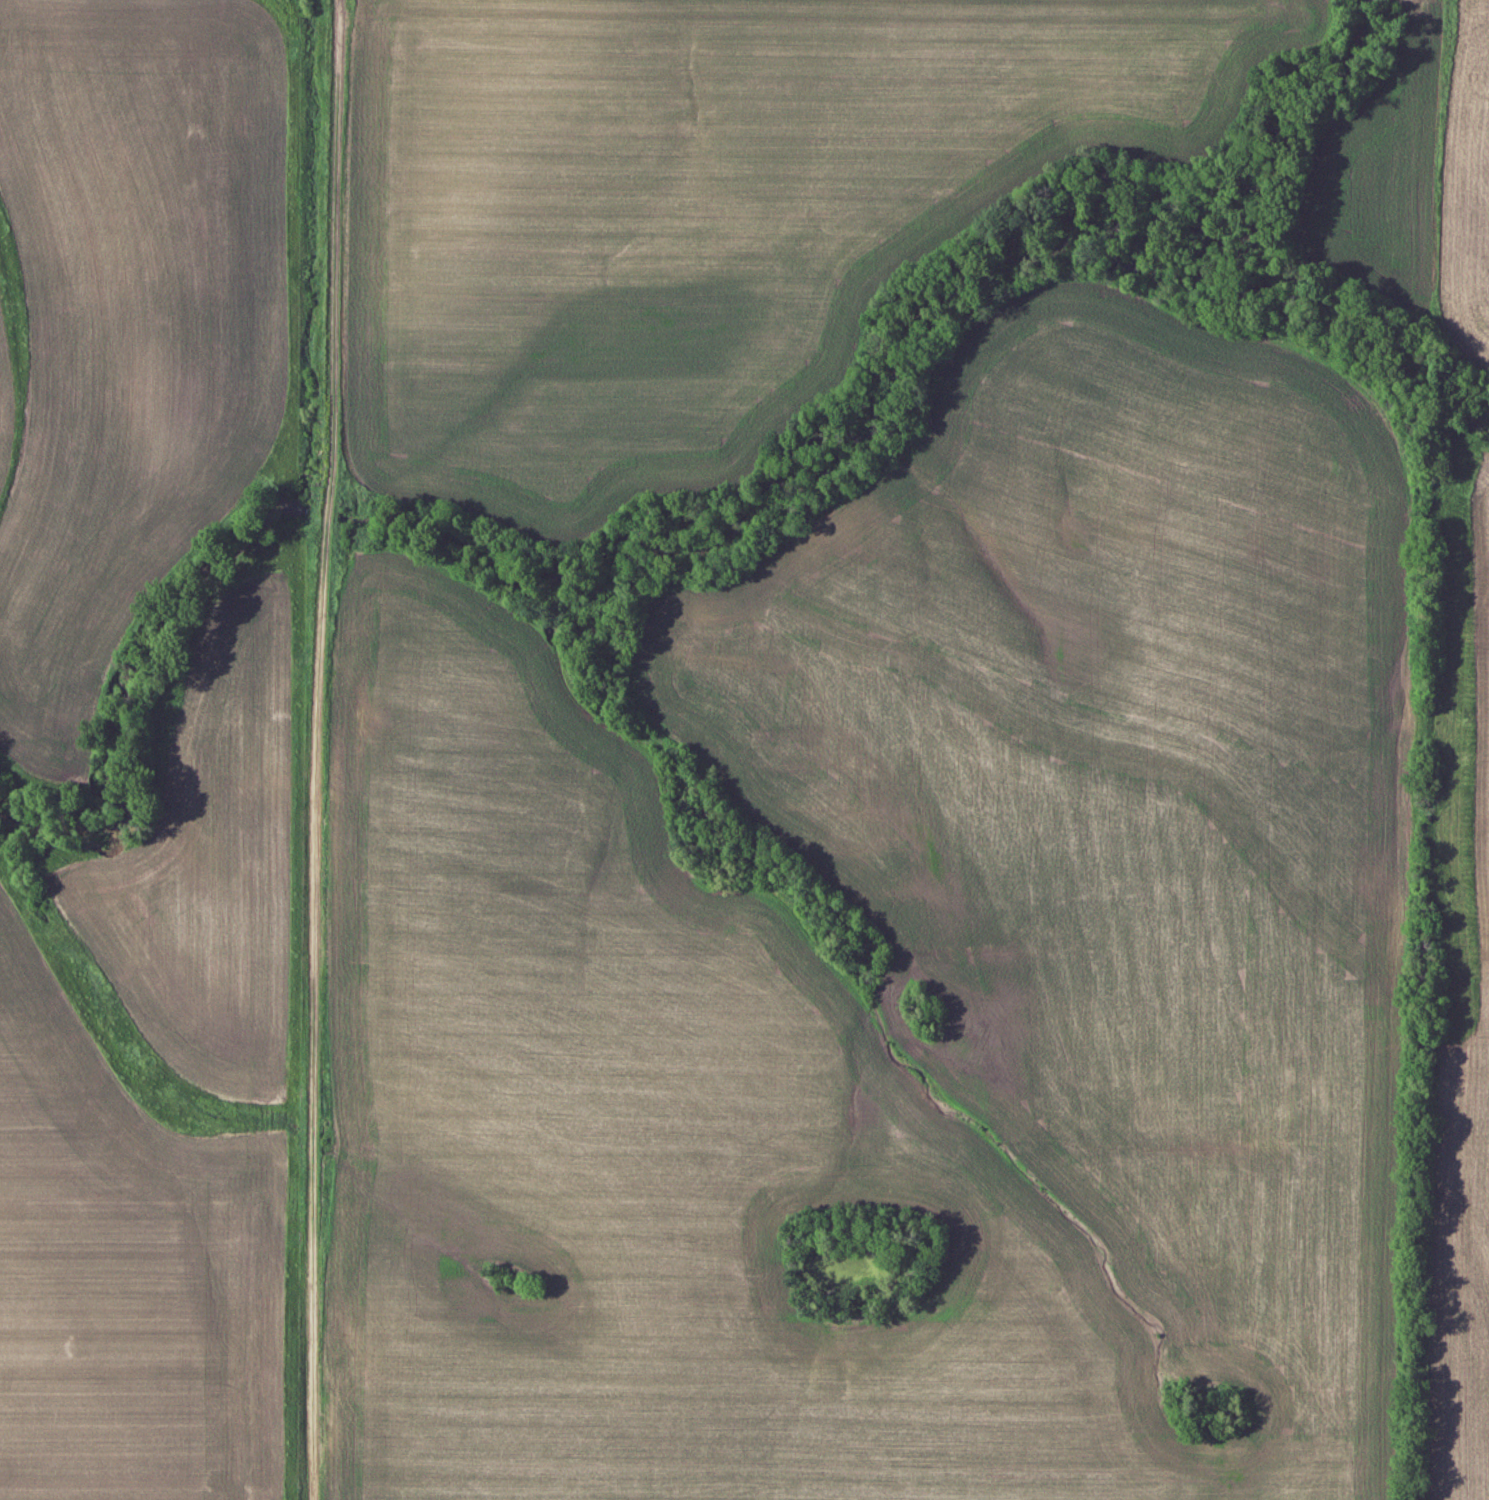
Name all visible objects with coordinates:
road: (319, 749)

